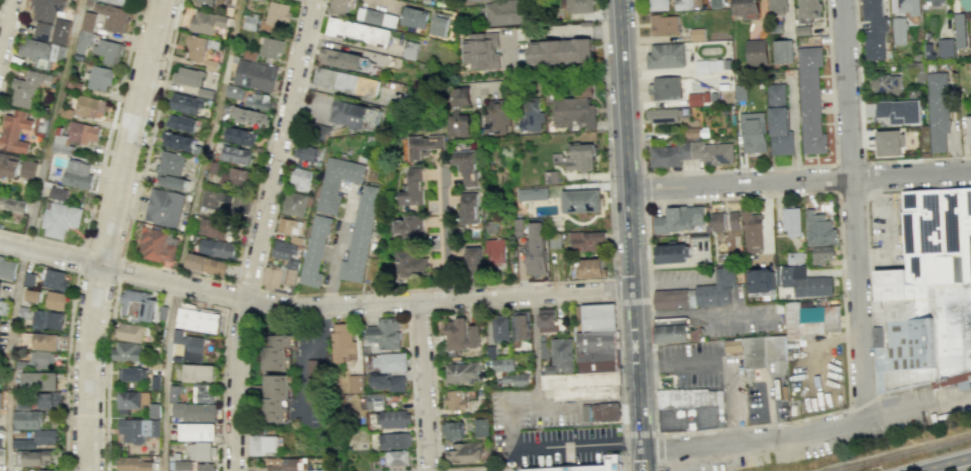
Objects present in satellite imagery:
building: (414, 0)
building: (433, 0)
building: (697, 0)
building: (476, 1)
building: (118, 2)
building: (213, 2)
building: (932, 2)
building: (685, 4)
building: (719, 4)
building: (660, 5)
building: (909, 5)
building: (966, 5)
building: (342, 6)
building: (579, 6)
building: (955, 6)
building: (779, 7)
building: (747, 8)
building: (810, 10)
building: (507, 12)
building: (46, 16)
building: (278, 16)
building: (113, 18)
building: (377, 18)
building: (414, 18)
building: (89, 21)
building: (208, 22)
building: (249, 22)
road: (5, 23)
building: (439, 24)
building: (666, 25)
building: (777, 28)
building: (873, 30)
building: (896, 30)
building: (804, 31)
building: (958, 31)
building: (358, 32)
building: (700, 34)
building: (84, 42)
road: (10, 47)
building: (201, 47)
building: (272, 48)
building: (408, 49)
building: (945, 49)
road: (363, 50)
building: (479, 50)
building: (784, 51)
building: (109, 52)
building: (758, 52)
building: (43, 53)
building: (560, 53)
building: (666, 56)
building: (340, 59)
building: (705, 65)
building: (917, 71)
building: (256, 76)
building: (189, 77)
building: (101, 78)
road: (62, 79)
building: (346, 83)
building: (886, 84)
building: (582, 87)
building: (30, 88)
building: (667, 88)
building: (235, 92)
building: (740, 92)
building: (916, 94)
building: (458, 96)
building: (715, 96)
building: (699, 98)
building: (811, 99)
building: (259, 102)
building: (187, 104)
building: (90, 107)
building: (937, 111)
building: (572, 112)
building: (898, 112)
building: (353, 113)
building: (251, 116)
building: (664, 116)
building: (532, 117)
building: (497, 121)
building: (780, 121)
building: (182, 123)
building: (41, 125)
building: (459, 125)
building: (968, 129)
building: (753, 131)
building: (15, 132)
road: (131, 132)
building: (698, 132)
building: (83, 133)
building: (320, 133)
building: (241, 135)
road: (861, 135)
road: (209, 140)
building: (178, 141)
road: (289, 143)
building: (886, 144)
building: (423, 145)
building: (63, 146)
building: (236, 154)
building: (307, 154)
building: (691, 154)
building: (580, 157)
building: (9, 165)
road: (101, 166)
building: (467, 166)
building: (215, 168)
road: (733, 169)
building: (30, 170)
building: (171, 170)
building: (78, 175)
building: (235, 177)
building: (552, 177)
building: (302, 180)
building: (337, 182)
road: (800, 182)
road: (919, 187)
building: (412, 188)
road: (642, 188)
road: (828, 192)
road: (866, 192)
building: (58, 193)
building: (532, 194)
building: (217, 200)
building: (582, 200)
road: (35, 202)
building: (13, 204)
building: (295, 204)
building: (241, 205)
building: (164, 207)
building: (468, 210)
road: (855, 210)
building: (61, 219)
building: (678, 220)
building: (791, 220)
road: (630, 222)
building: (726, 222)
building: (518, 226)
road: (887, 226)
building: (408, 227)
building: (491, 227)
building: (214, 228)
building: (291, 228)
building: (819, 229)
building: (753, 231)
parking lot: (885, 231)
road: (259, 233)
building: (361, 236)
road: (445, 236)
building: (592, 242)
building: (157, 245)
road: (338, 247)
building: (537, 248)
building: (218, 249)
building: (316, 249)
building: (284, 250)
building: (497, 251)
road: (51, 253)
building: (670, 253)
building: (822, 255)
building: (796, 257)
building: (469, 261)
building: (407, 263)
building: (206, 264)
road: (614, 264)
building: (7, 268)
building: (590, 268)
road: (190, 273)
building: (278, 276)
parking lot: (682, 278)
building: (30, 279)
building: (56, 279)
road: (117, 279)
building: (758, 280)
building: (805, 281)
building: (0, 282)
road: (672, 285)
building: (0, 286)
road: (161, 290)
road: (274, 291)
road: (350, 292)
road: (327, 293)
building: (697, 293)
building: (926, 293)
road: (305, 294)
road: (869, 294)
building: (34, 295)
road: (621, 300)
building: (56, 301)
road: (576, 303)
road: (365, 304)
building: (138, 305)
road: (230, 306)
building: (5, 309)
road: (419, 311)
building: (25, 312)
building: (163, 312)
road: (317, 312)
road: (702, 313)
building: (546, 317)
building: (594, 318)
building: (200, 320)
building: (51, 321)
building: (812, 321)
parking lot: (745, 322)
building: (1, 325)
building: (522, 328)
building: (502, 329)
road: (68, 330)
building: (674, 330)
building: (131, 333)
building: (385, 334)
building: (456, 334)
road: (431, 337)
building: (0, 339)
building: (343, 339)
building: (39, 342)
building: (191, 345)
road: (409, 345)
road: (537, 345)
building: (733, 346)
building: (544, 349)
building: (763, 350)
building: (127, 351)
building: (490, 351)
building: (596, 351)
building: (277, 352)
building: (563, 353)
road: (10, 358)
building: (42, 359)
road: (298, 361)
building: (392, 361)
road: (877, 363)
road: (722, 364)
building: (22, 365)
building: (502, 366)
road: (89, 367)
building: (550, 369)
building: (200, 372)
building: (465, 373)
parking lot: (706, 373)
building: (134, 374)
road: (168, 376)
building: (516, 380)
building: (40, 381)
building: (312, 381)
building: (156, 382)
building: (389, 382)
building: (353, 383)
building: (580, 385)
road: (424, 386)
road: (621, 386)
road: (243, 390)
road: (878, 392)
building: (204, 393)
road: (876, 395)
building: (275, 398)
building: (0, 400)
building: (50, 400)
building: (132, 400)
building: (456, 400)
road: (954, 400)
road: (861, 401)
building: (375, 402)
road: (601, 402)
parking lot: (766, 402)
building: (24, 404)
road: (769, 407)
building: (154, 409)
building: (687, 410)
building: (196, 411)
road: (547, 411)
building: (605, 412)
road: (901, 413)
building: (29, 419)
building: (394, 419)
building: (482, 428)
building: (139, 430)
building: (453, 430)
building: (198, 431)
parking lot: (547, 434)
road: (640, 434)
building: (38, 440)
building: (394, 441)
building: (1, 443)
road: (755, 443)
building: (262, 445)
road: (644, 447)
road: (657, 447)
parking lot: (807, 447)
road: (545, 448)
building: (203, 451)
building: (465, 452)
railway: (899, 452)
building: (2, 455)
building: (32, 457)
building: (398, 457)
road: (573, 458)
road: (645, 460)
road: (942, 463)
building: (134, 464)
building: (184, 465)
building: (286, 465)
building: (604, 465)
road: (658, 465)
building: (205, 467)
road: (959, 468)
building: (545, 469)
building: (46, 470)

